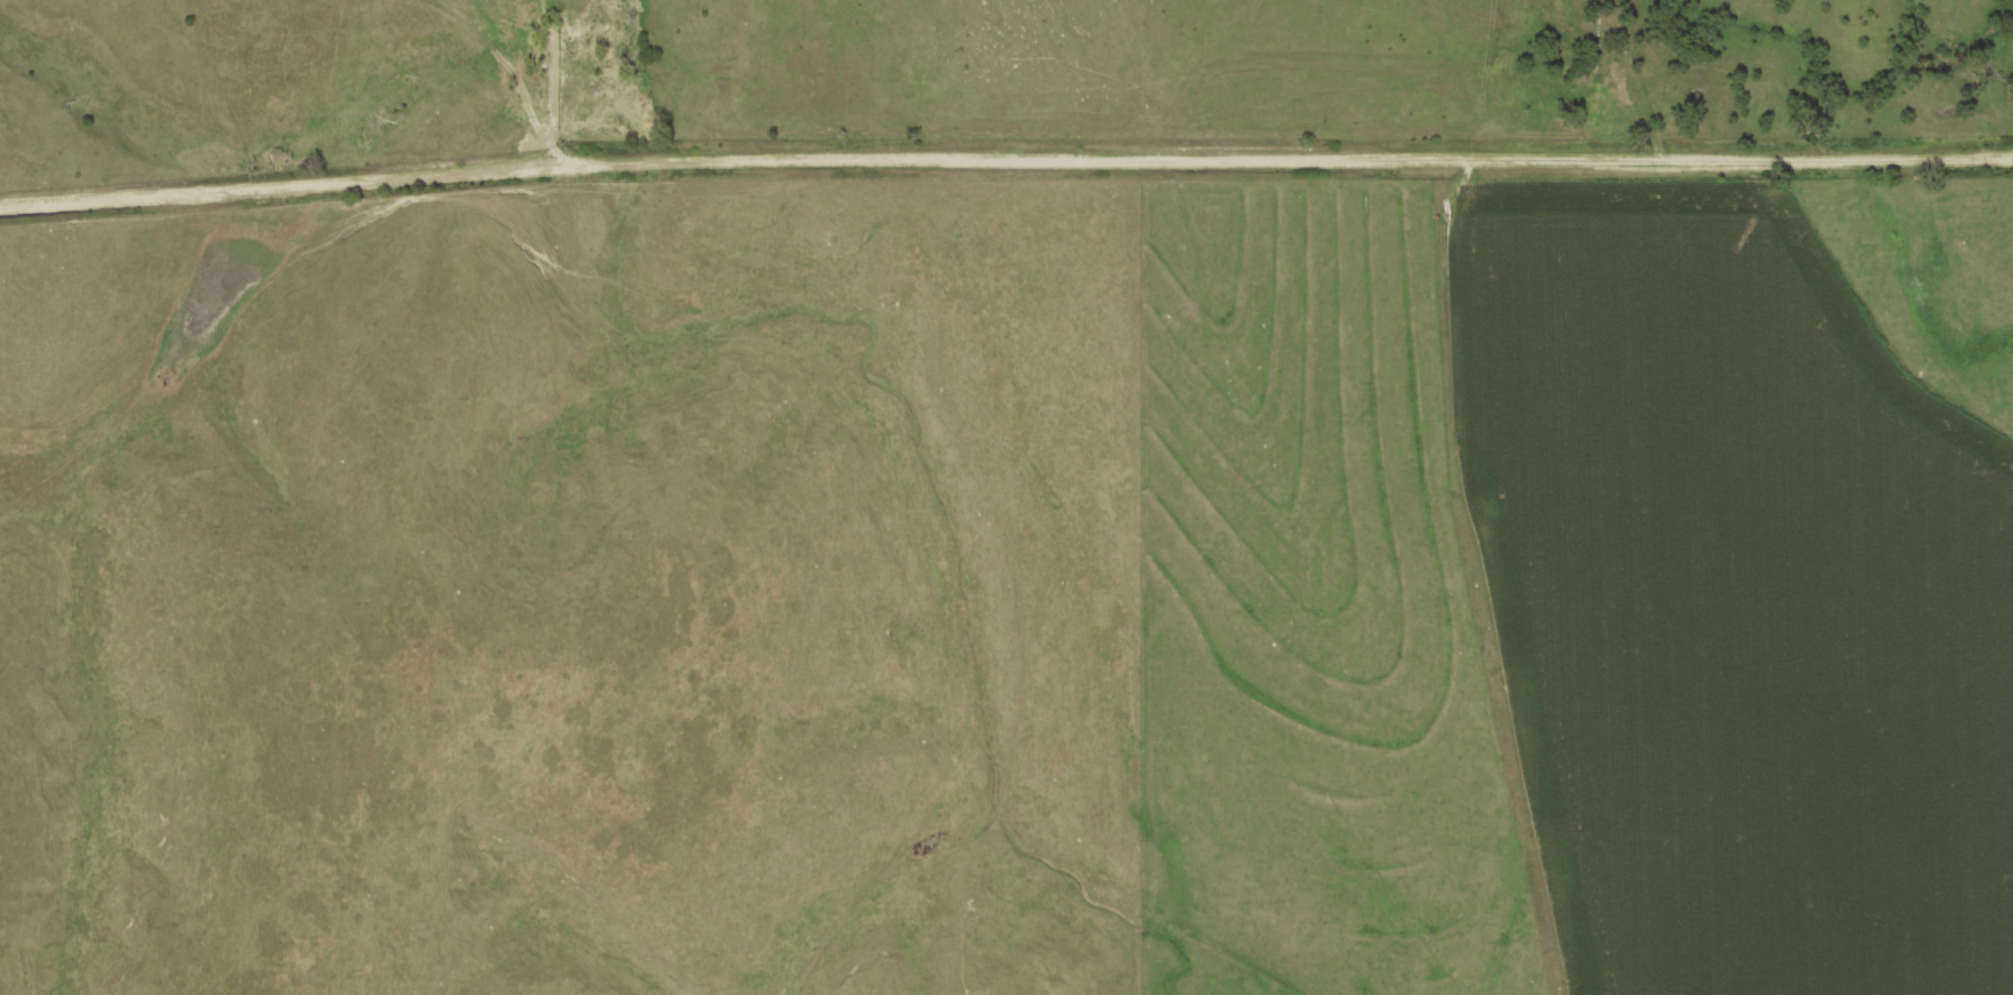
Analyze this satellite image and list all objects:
road: (1005, 161)
crop: (1736, 602)

